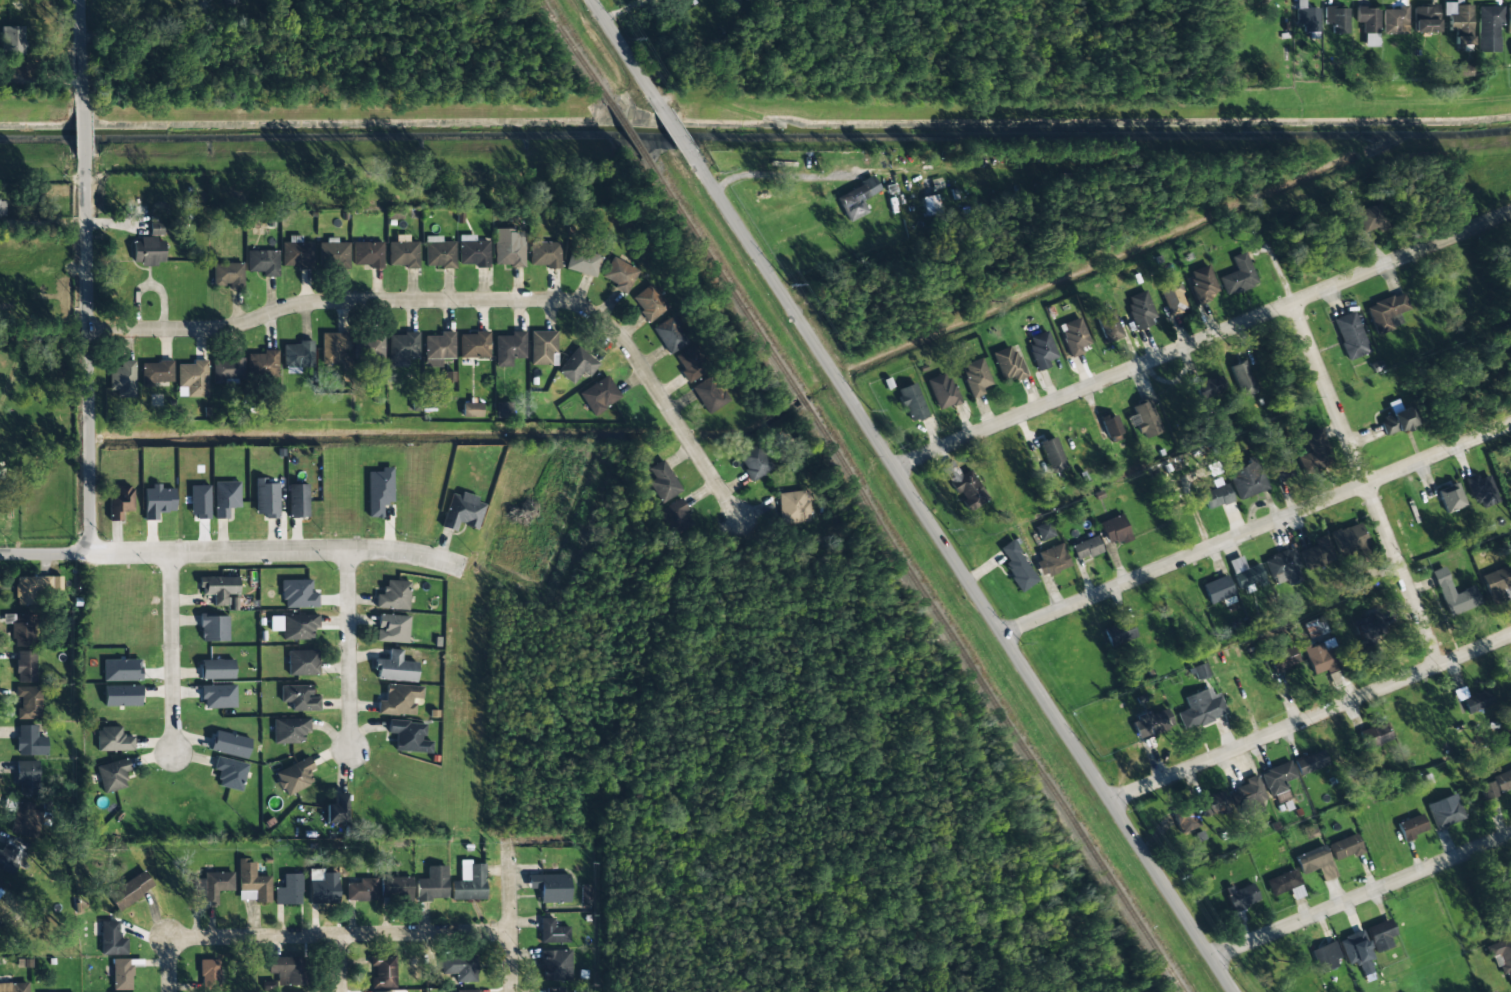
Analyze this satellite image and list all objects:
building: (230, 2)
building: (1306, 17)
building: (1336, 19)
building: (1425, 19)
building: (1395, 20)
building: (1508, 20)
building: (1459, 23)
building: (1368, 25)
building: (1488, 29)
building: (12, 40)
road: (621, 49)
railway: (575, 51)
road: (80, 54)
building: (1464, 70)
road: (671, 124)
road: (81, 132)
railway: (629, 133)
building: (855, 199)
building: (930, 205)
building: (2, 208)
building: (1370, 219)
building: (155, 229)
building: (148, 251)
building: (473, 251)
building: (293, 252)
building: (439, 253)
building: (508, 253)
building: (333, 254)
building: (367, 254)
building: (403, 254)
building: (545, 254)
building: (263, 262)
building: (582, 262)
building: (228, 275)
building: (619, 275)
building: (1238, 276)
building: (1202, 284)
building: (1171, 295)
road: (467, 301)
building: (649, 303)
building: (1139, 310)
building: (1386, 311)
building: (1108, 326)
building: (670, 335)
building: (1350, 335)
building: (1073, 337)
road: (1203, 340)
building: (474, 345)
building: (333, 347)
building: (370, 347)
building: (542, 347)
building: (402, 348)
building: (509, 348)
building: (438, 349)
building: (1041, 350)
building: (297, 355)
building: (1008, 363)
building: (262, 364)
building: (690, 364)
building: (577, 365)
building: (227, 369)
building: (157, 372)
building: (975, 377)
building: (1242, 378)
building: (123, 379)
building: (192, 379)
building: (1209, 387)
building: (942, 391)
building: (709, 394)
road: (89, 395)
building: (599, 395)
building: (912, 402)
building: (471, 410)
building: (503, 410)
building: (1144, 419)
building: (1110, 425)
building: (1314, 452)
building: (1051, 455)
building: (754, 462)
building: (1281, 468)
building: (1248, 481)
building: (663, 482)
road: (1365, 484)
building: (964, 487)
building: (379, 491)
building: (1481, 491)
building: (1450, 497)
building: (226, 498)
building: (266, 498)
building: (199, 501)
building: (297, 501)
building: (120, 502)
building: (157, 502)
building: (794, 507)
building: (462, 512)
building: (678, 516)
road: (1257, 529)
building: (1114, 530)
building: (1043, 531)
building: (1348, 540)
road: (267, 548)
building: (1086, 548)
building: (1315, 554)
building: (1052, 560)
building: (1017, 567)
building: (1282, 568)
road: (962, 571)
building: (1244, 573)
railway: (916, 579)
building: (38, 588)
building: (219, 589)
building: (298, 594)
building: (1453, 594)
building: (393, 596)
building: (294, 626)
building: (1315, 627)
building: (213, 628)
building: (392, 628)
building: (20, 629)
building: (1119, 632)
building: (1367, 632)
road: (170, 647)
road: (347, 649)
building: (1321, 657)
building: (1283, 660)
building: (302, 663)
building: (26, 666)
building: (395, 668)
building: (217, 669)
building: (121, 670)
building: (1199, 672)
building: (122, 696)
building: (218, 696)
building: (299, 698)
building: (399, 700)
building: (1476, 701)
building: (29, 702)
building: (1200, 709)
road: (1311, 717)
building: (1149, 723)
building: (289, 730)
building: (1374, 736)
building: (409, 737)
building: (113, 740)
building: (30, 741)
building: (230, 744)
building: (1310, 762)
building: (229, 773)
building: (112, 775)
building: (294, 776)
building: (27, 777)
building: (1277, 778)
building: (1502, 781)
building: (1488, 790)
building: (1250, 796)
building: (1213, 804)
building: (336, 809)
building: (1445, 811)
building: (24, 818)
building: (1185, 818)
building: (1411, 827)
building: (1344, 847)
building: (10, 855)
building: (1311, 859)
building: (1282, 882)
building: (252, 883)
building: (469, 883)
building: (432, 884)
building: (215, 886)
building: (396, 887)
building: (550, 887)
building: (323, 889)
building: (130, 890)
building: (289, 890)
building: (361, 890)
building: (1241, 896)
road: (1362, 896)
road: (511, 913)
building: (553, 932)
road: (344, 934)
building: (1380, 935)
building: (111, 939)
building: (1356, 951)
building: (1501, 954)
building: (1325, 956)
road: (341, 963)
building: (556, 965)
road: (170, 966)
building: (459, 967)
building: (286, 970)
building: (383, 971)
building: (121, 974)
building: (209, 975)
building: (14, 987)
building: (555, 989)
building: (464, 991)

